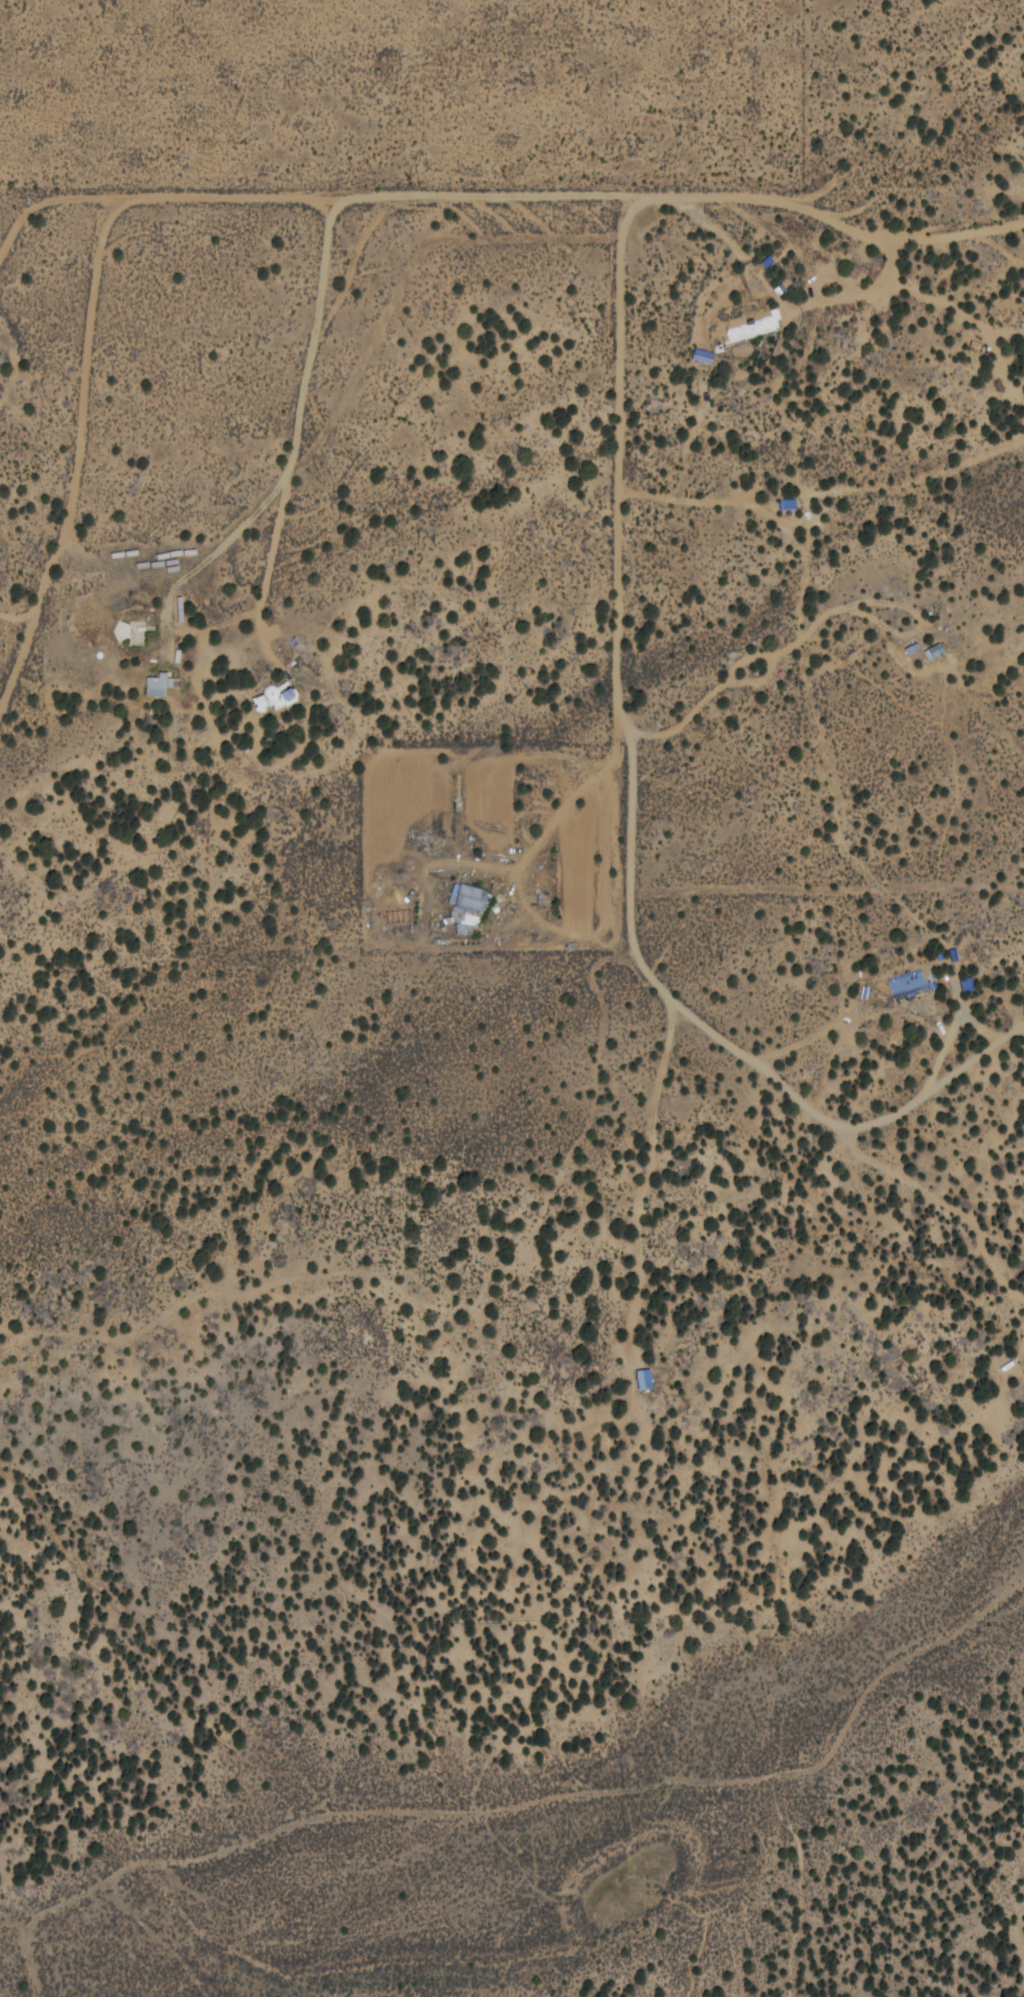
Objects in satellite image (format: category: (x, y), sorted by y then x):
road: (422, 95)
road: (391, 341)
building: (701, 355)
building: (787, 503)
building: (912, 647)
building: (933, 650)
building: (155, 684)
building: (465, 905)
building: (966, 983)
building: (643, 1378)
road: (842, 1657)

